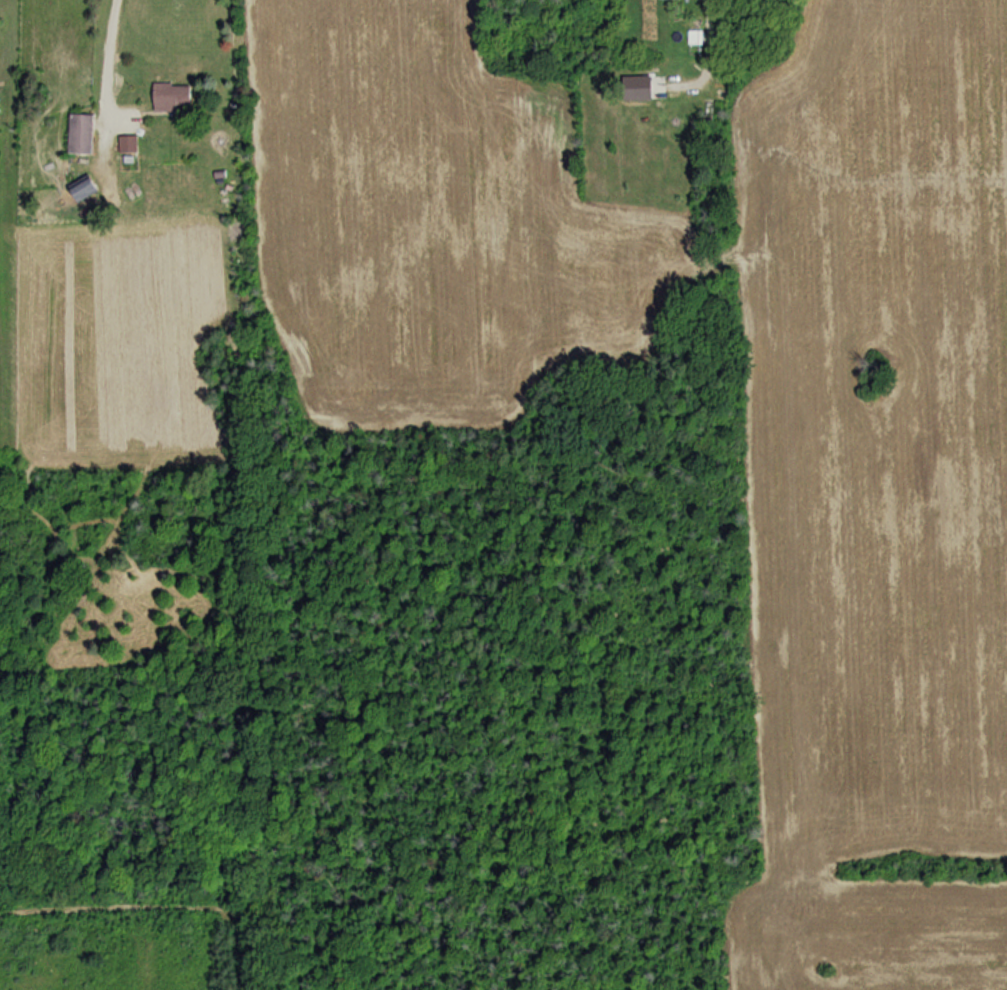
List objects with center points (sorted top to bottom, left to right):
road: (109, 55)
building: (631, 88)
building: (166, 97)
building: (0, 104)
building: (77, 135)
building: (124, 145)
building: (78, 192)

